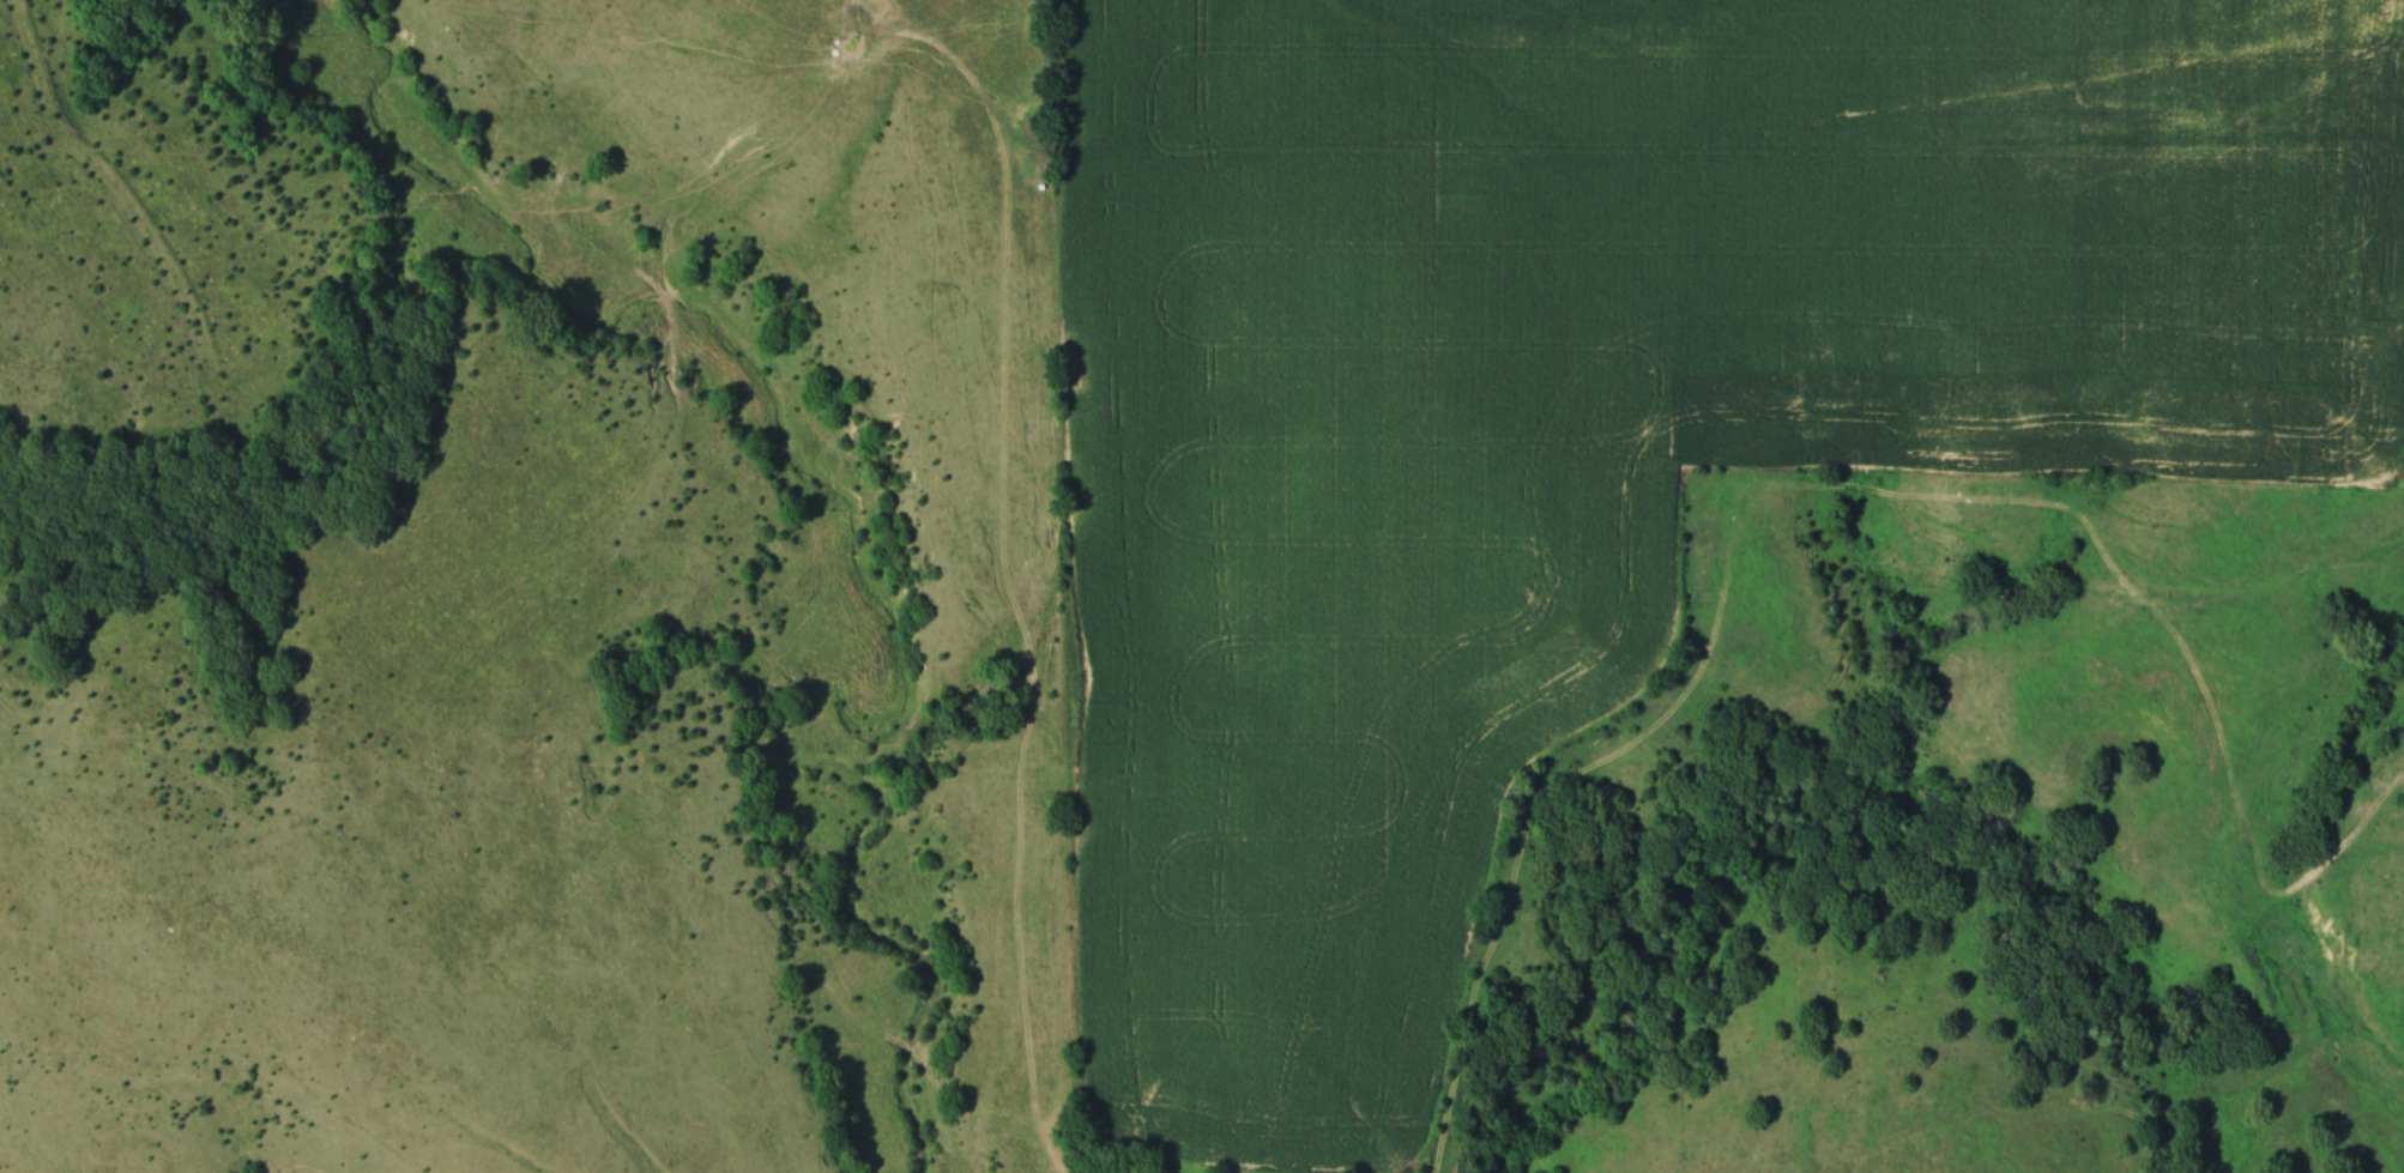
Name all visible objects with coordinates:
river: (846, 919)

